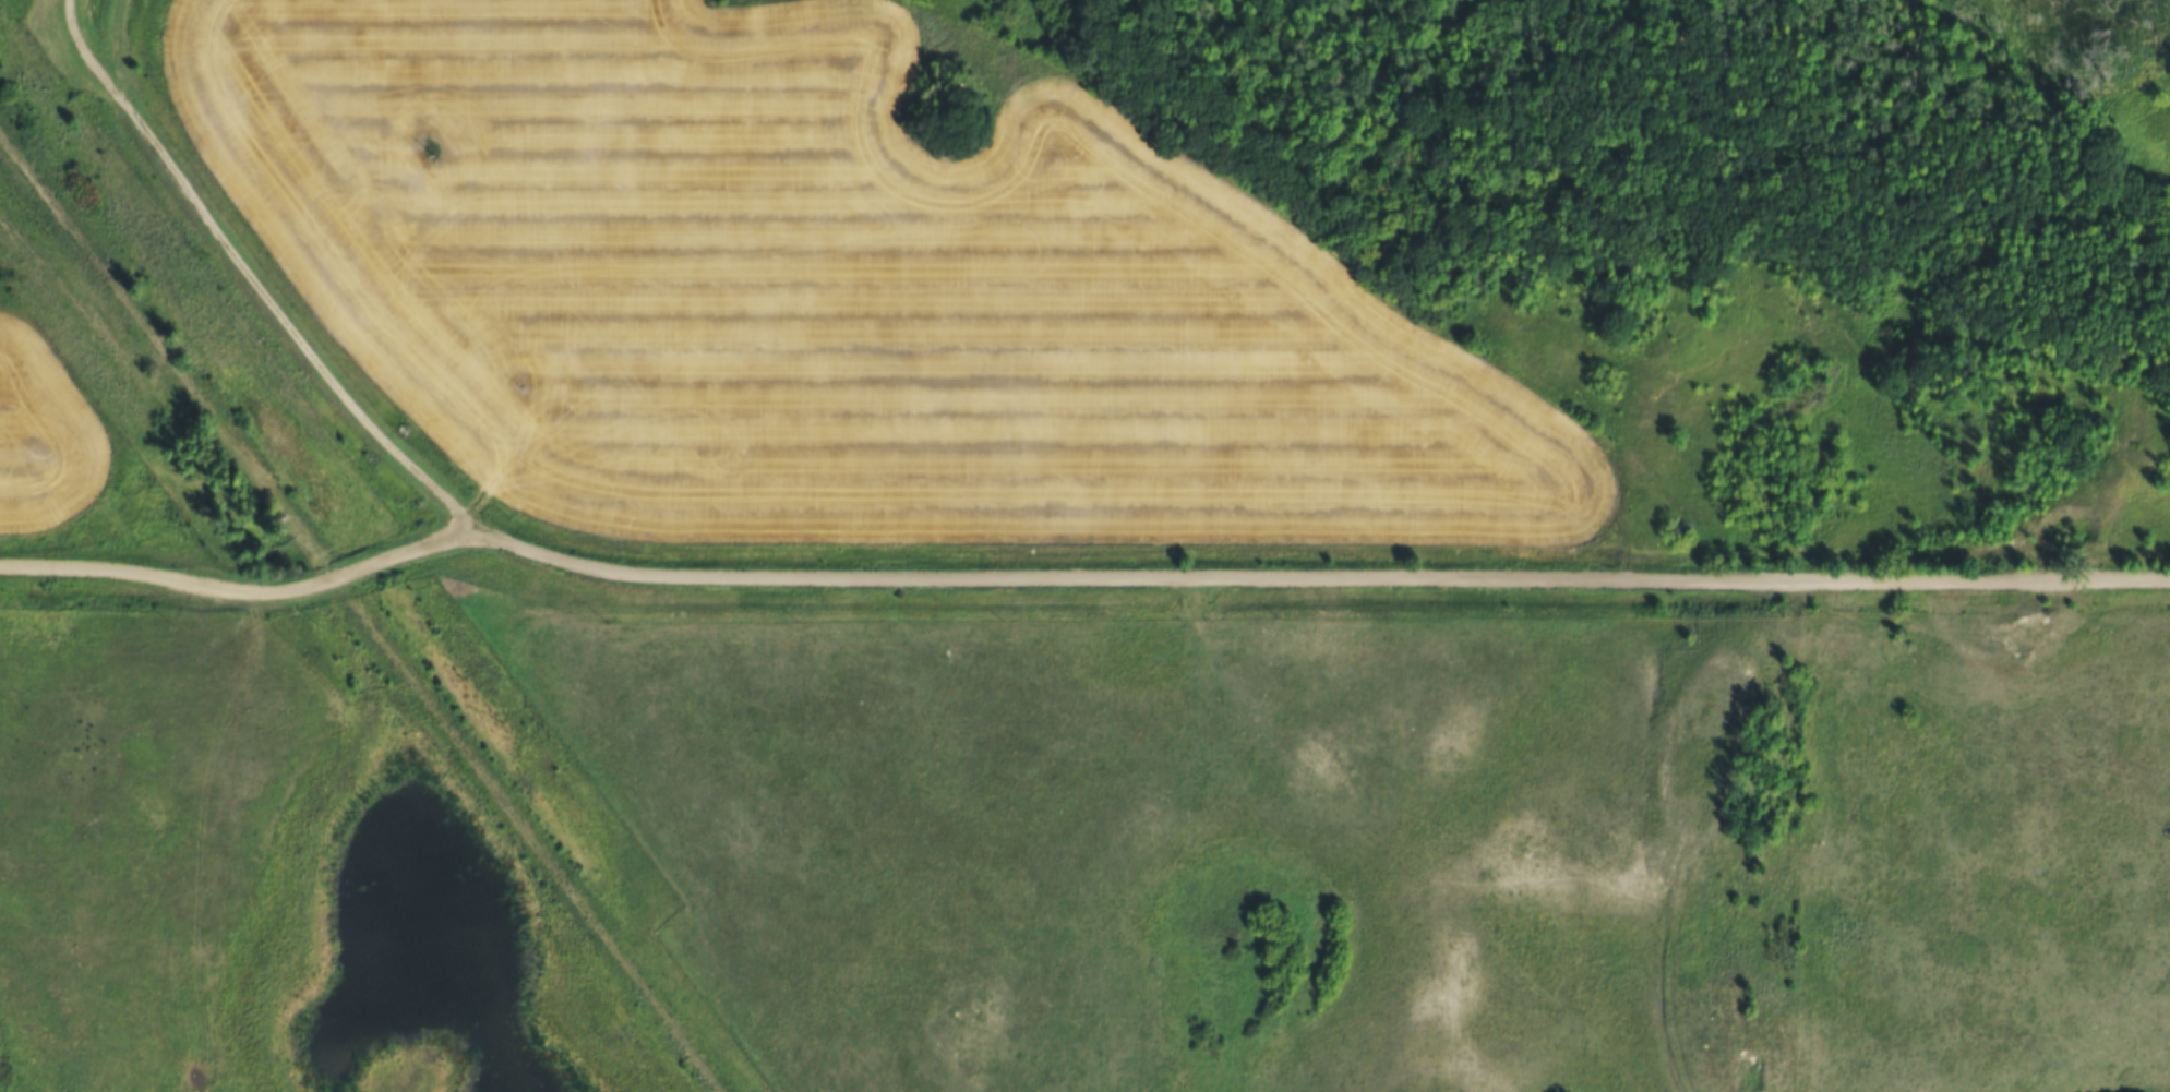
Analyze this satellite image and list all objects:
building: (41, 2)
road: (260, 278)
road: (1317, 571)
road: (243, 590)

